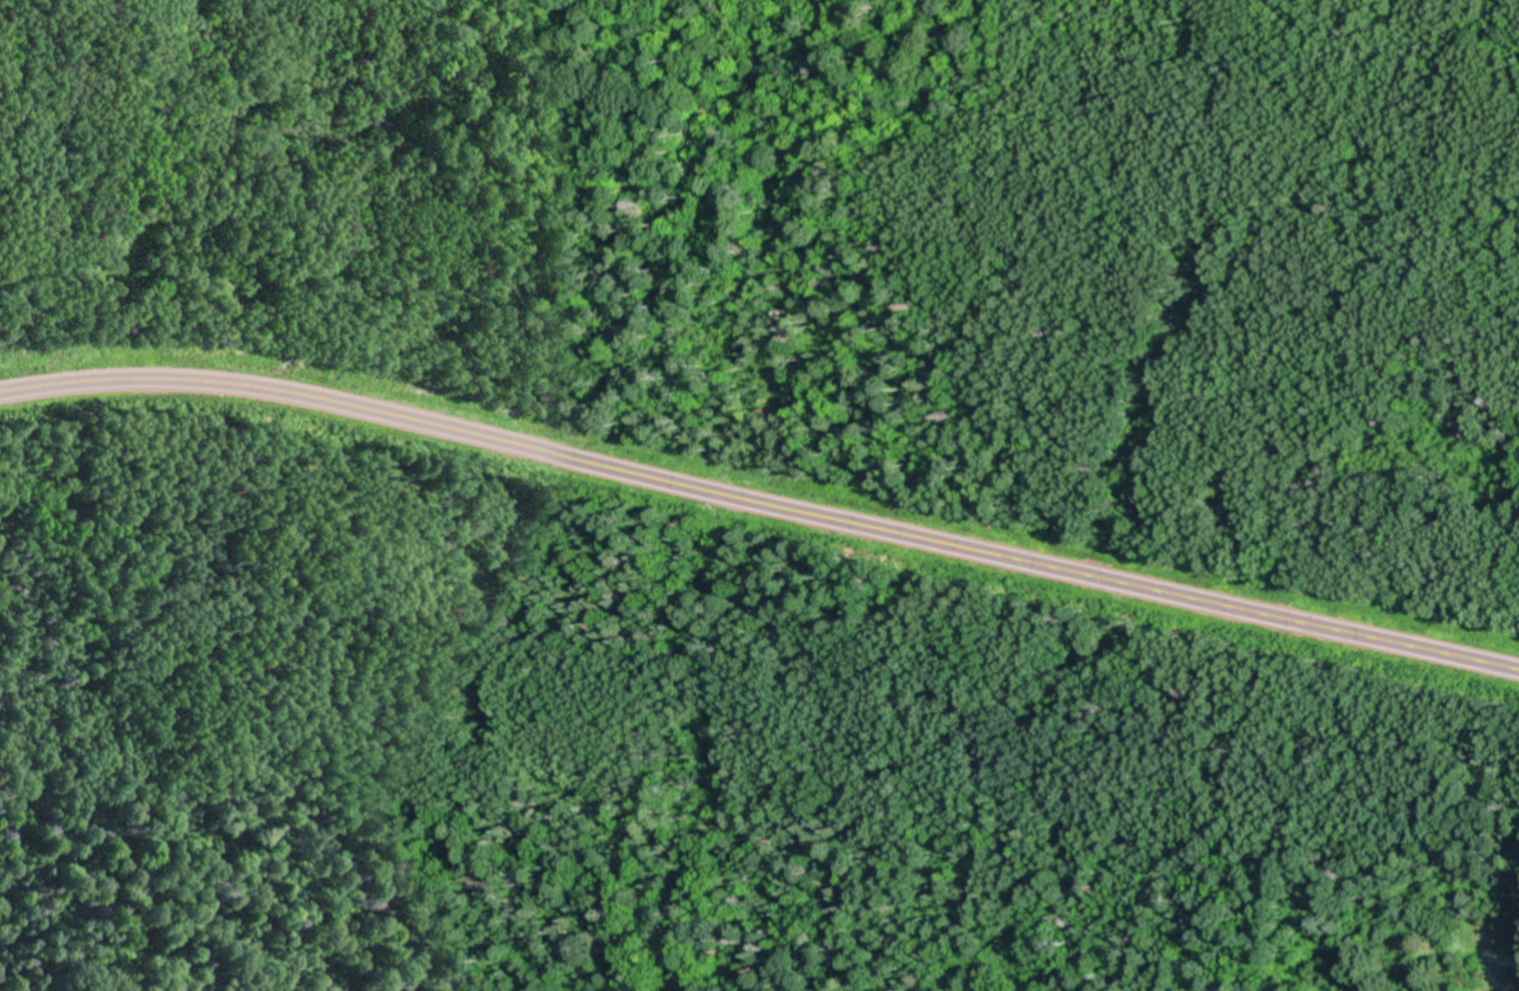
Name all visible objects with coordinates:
road: (523, 379)
road: (761, 503)

